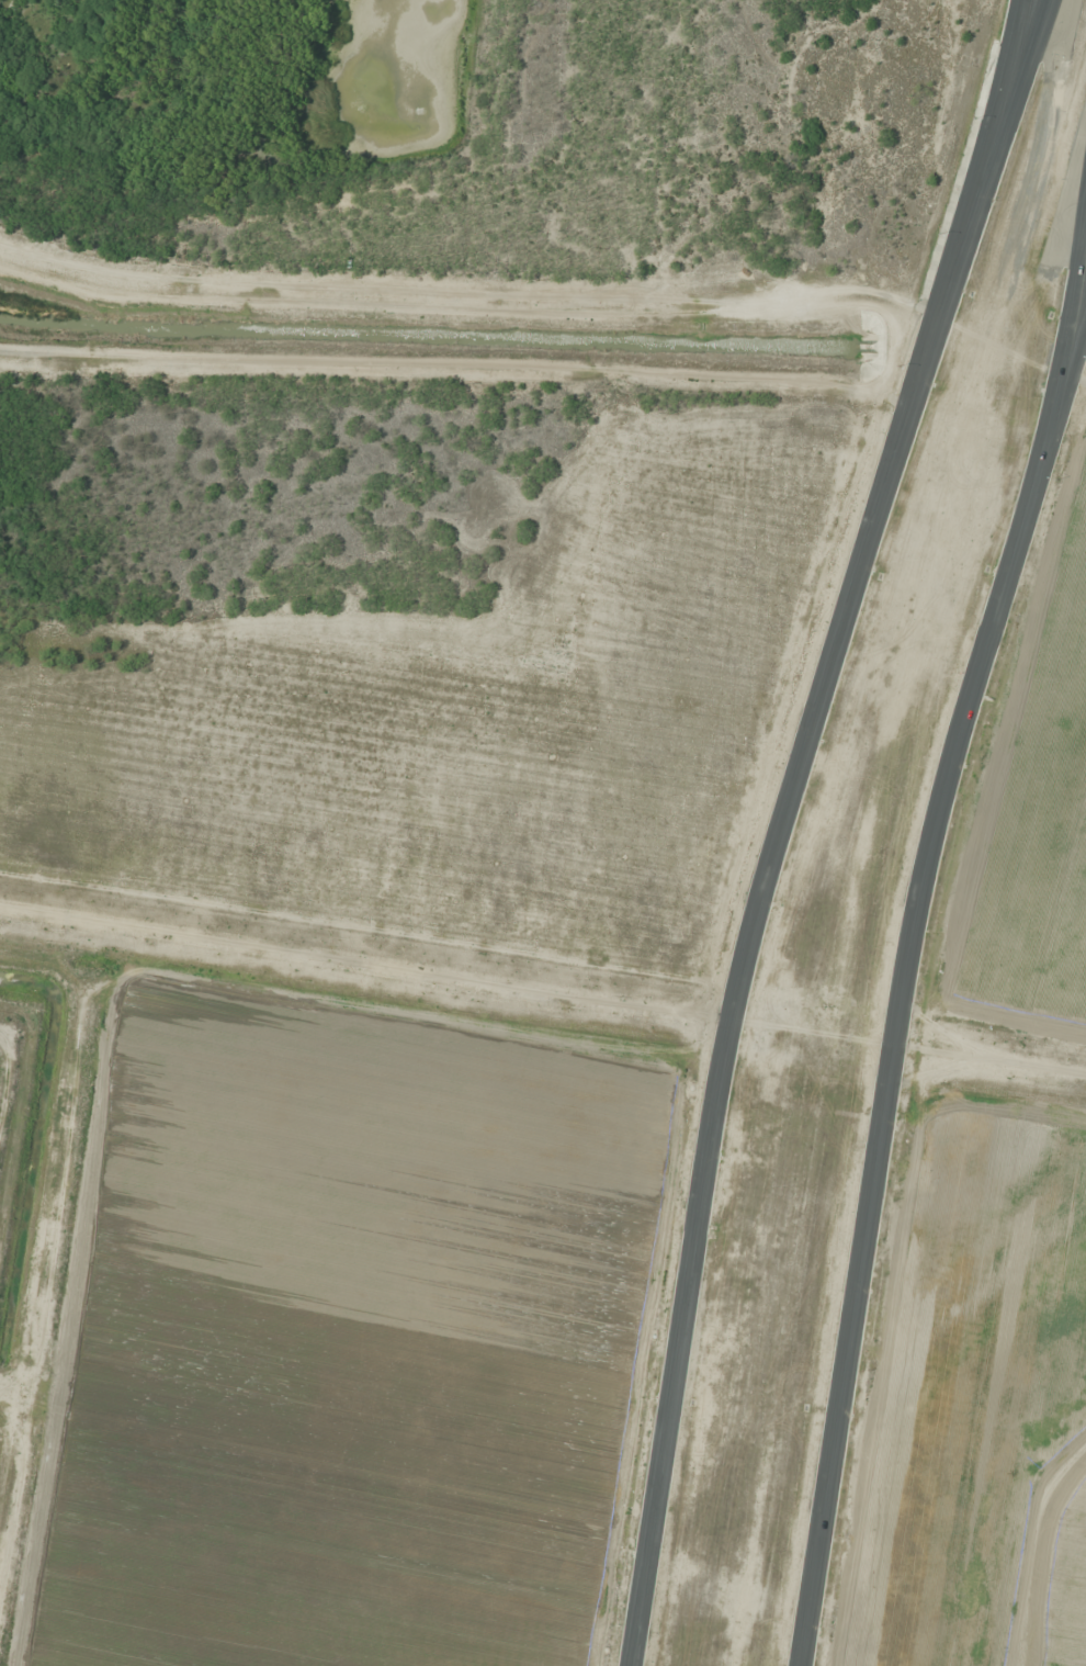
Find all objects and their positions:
road: (932, 312)
river: (437, 333)
river: (981, 349)
road: (1059, 418)
road: (822, 702)
road: (908, 952)
road: (653, 1545)

